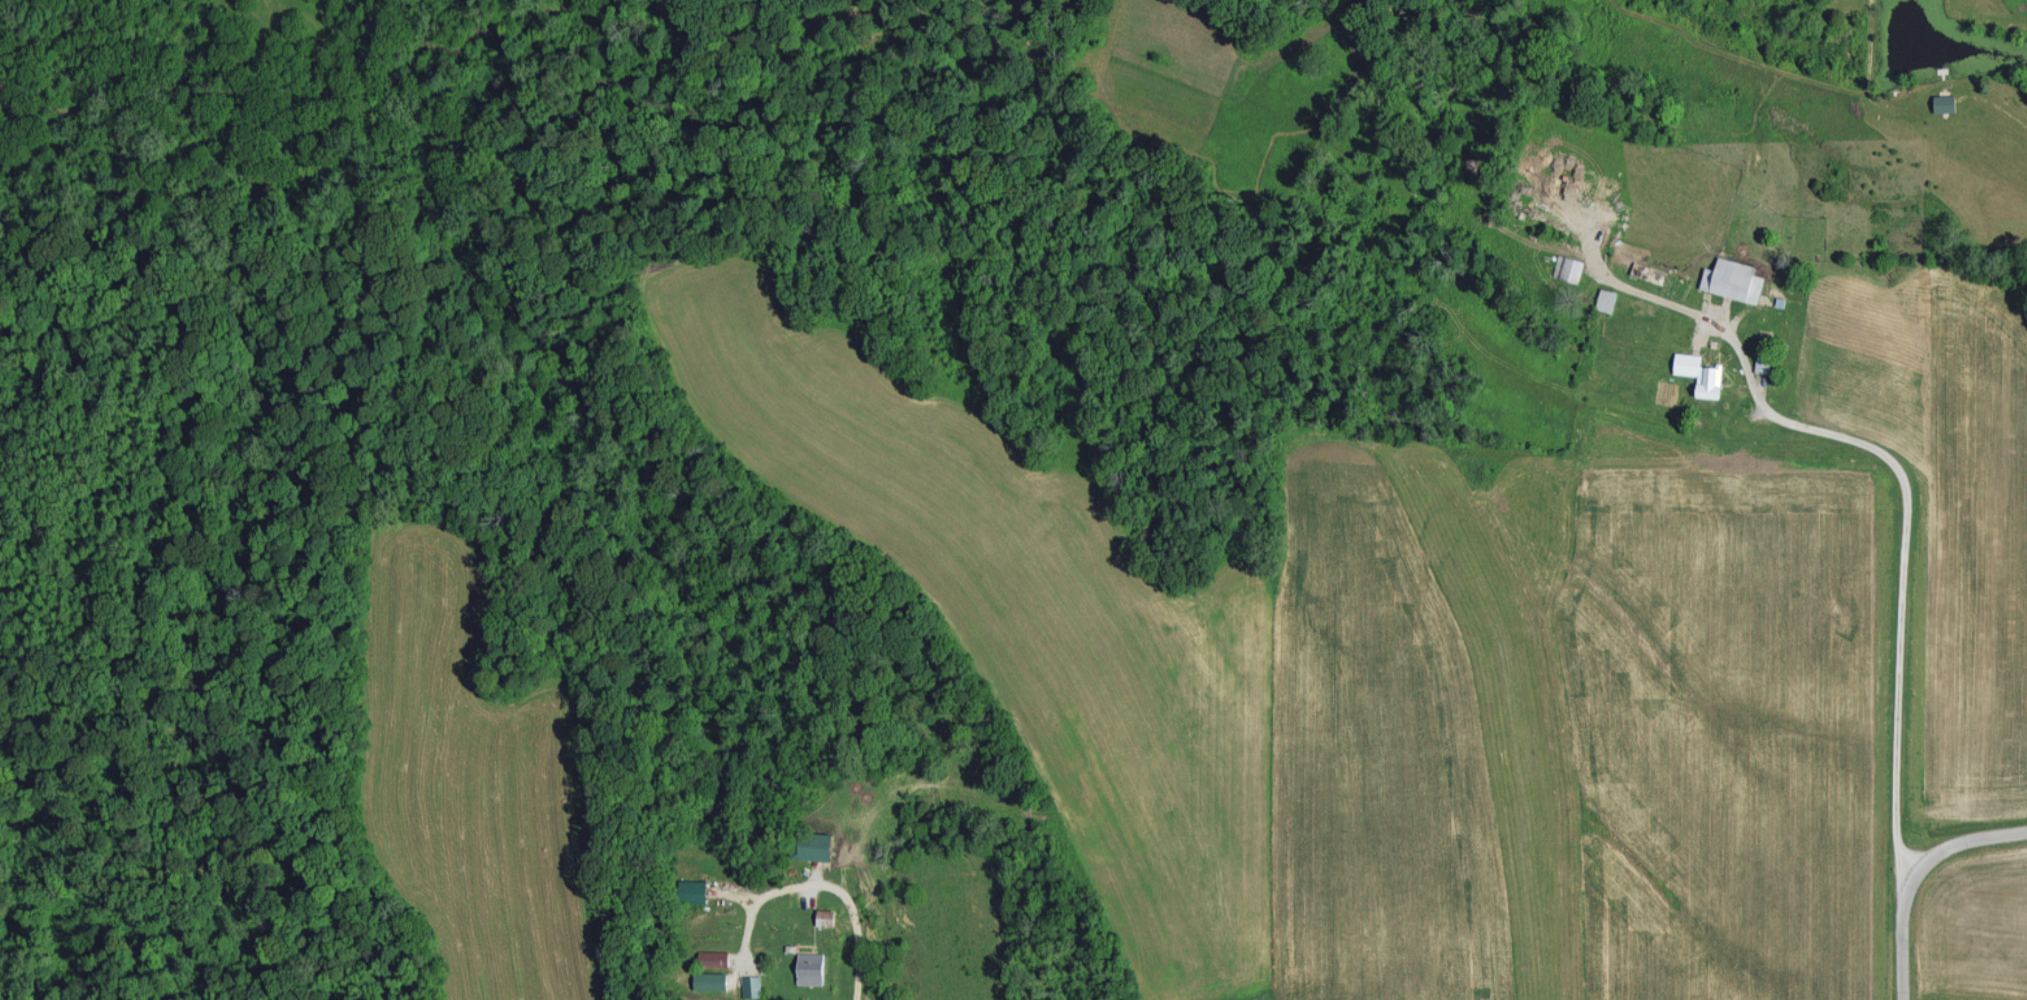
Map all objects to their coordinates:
building: (1570, 267)
building: (1734, 279)
building: (1607, 299)
building: (1764, 364)
building: (1701, 373)
road: (1905, 544)
road: (1961, 837)
building: (816, 846)
road: (823, 883)
building: (693, 890)
building: (825, 916)
road: (1903, 937)
building: (715, 957)
building: (811, 967)
building: (715, 980)
building: (753, 985)

